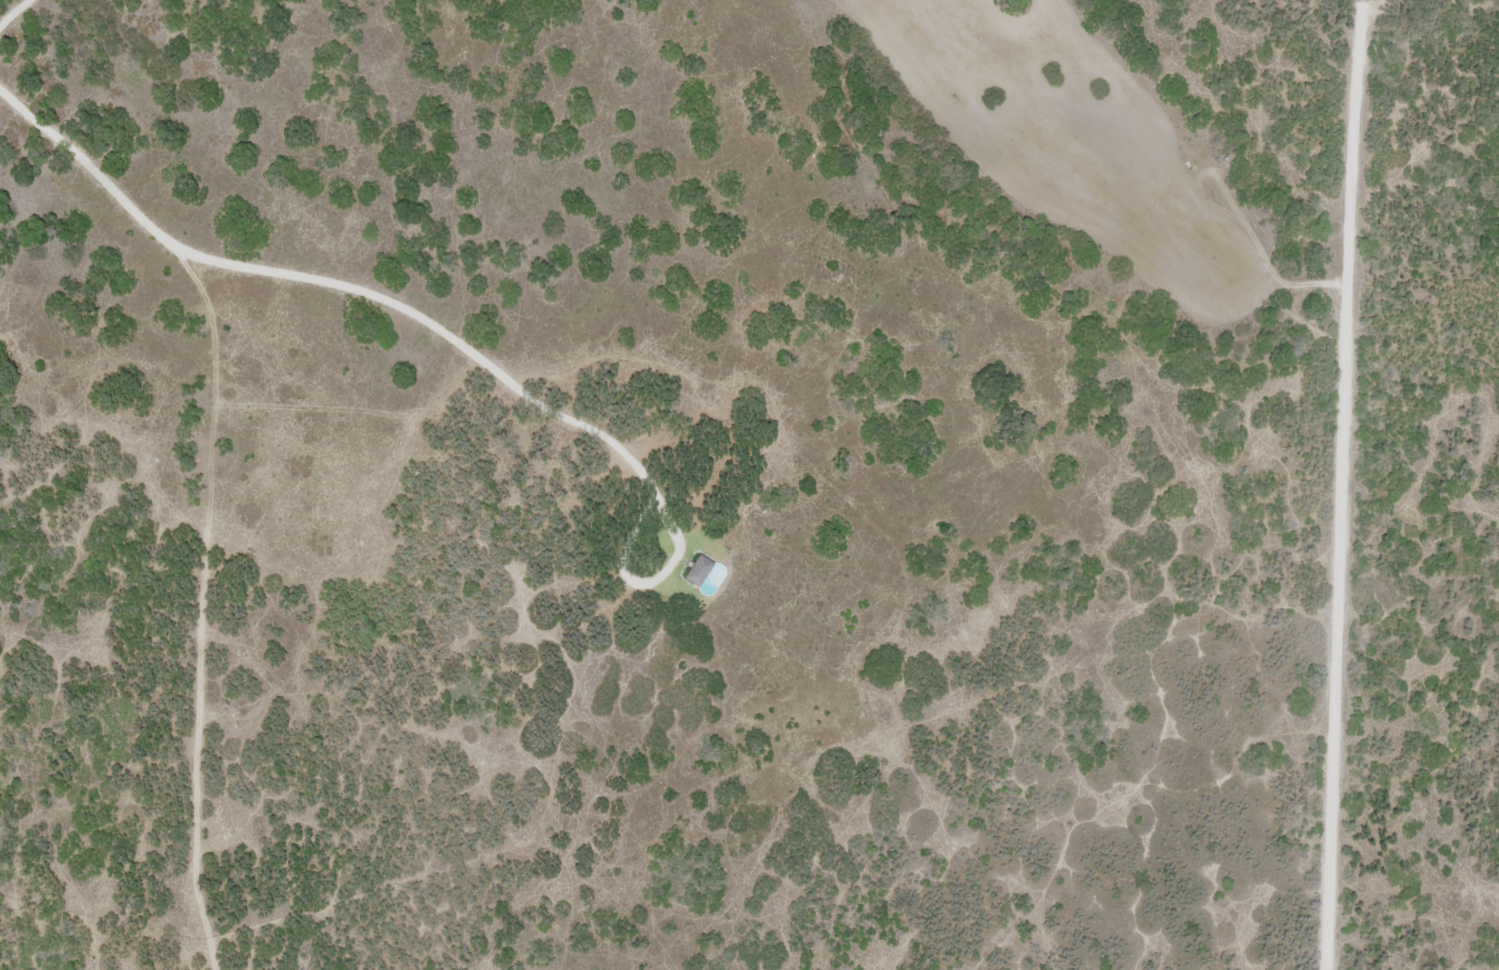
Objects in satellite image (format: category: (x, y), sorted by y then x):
road: (219, 480)

